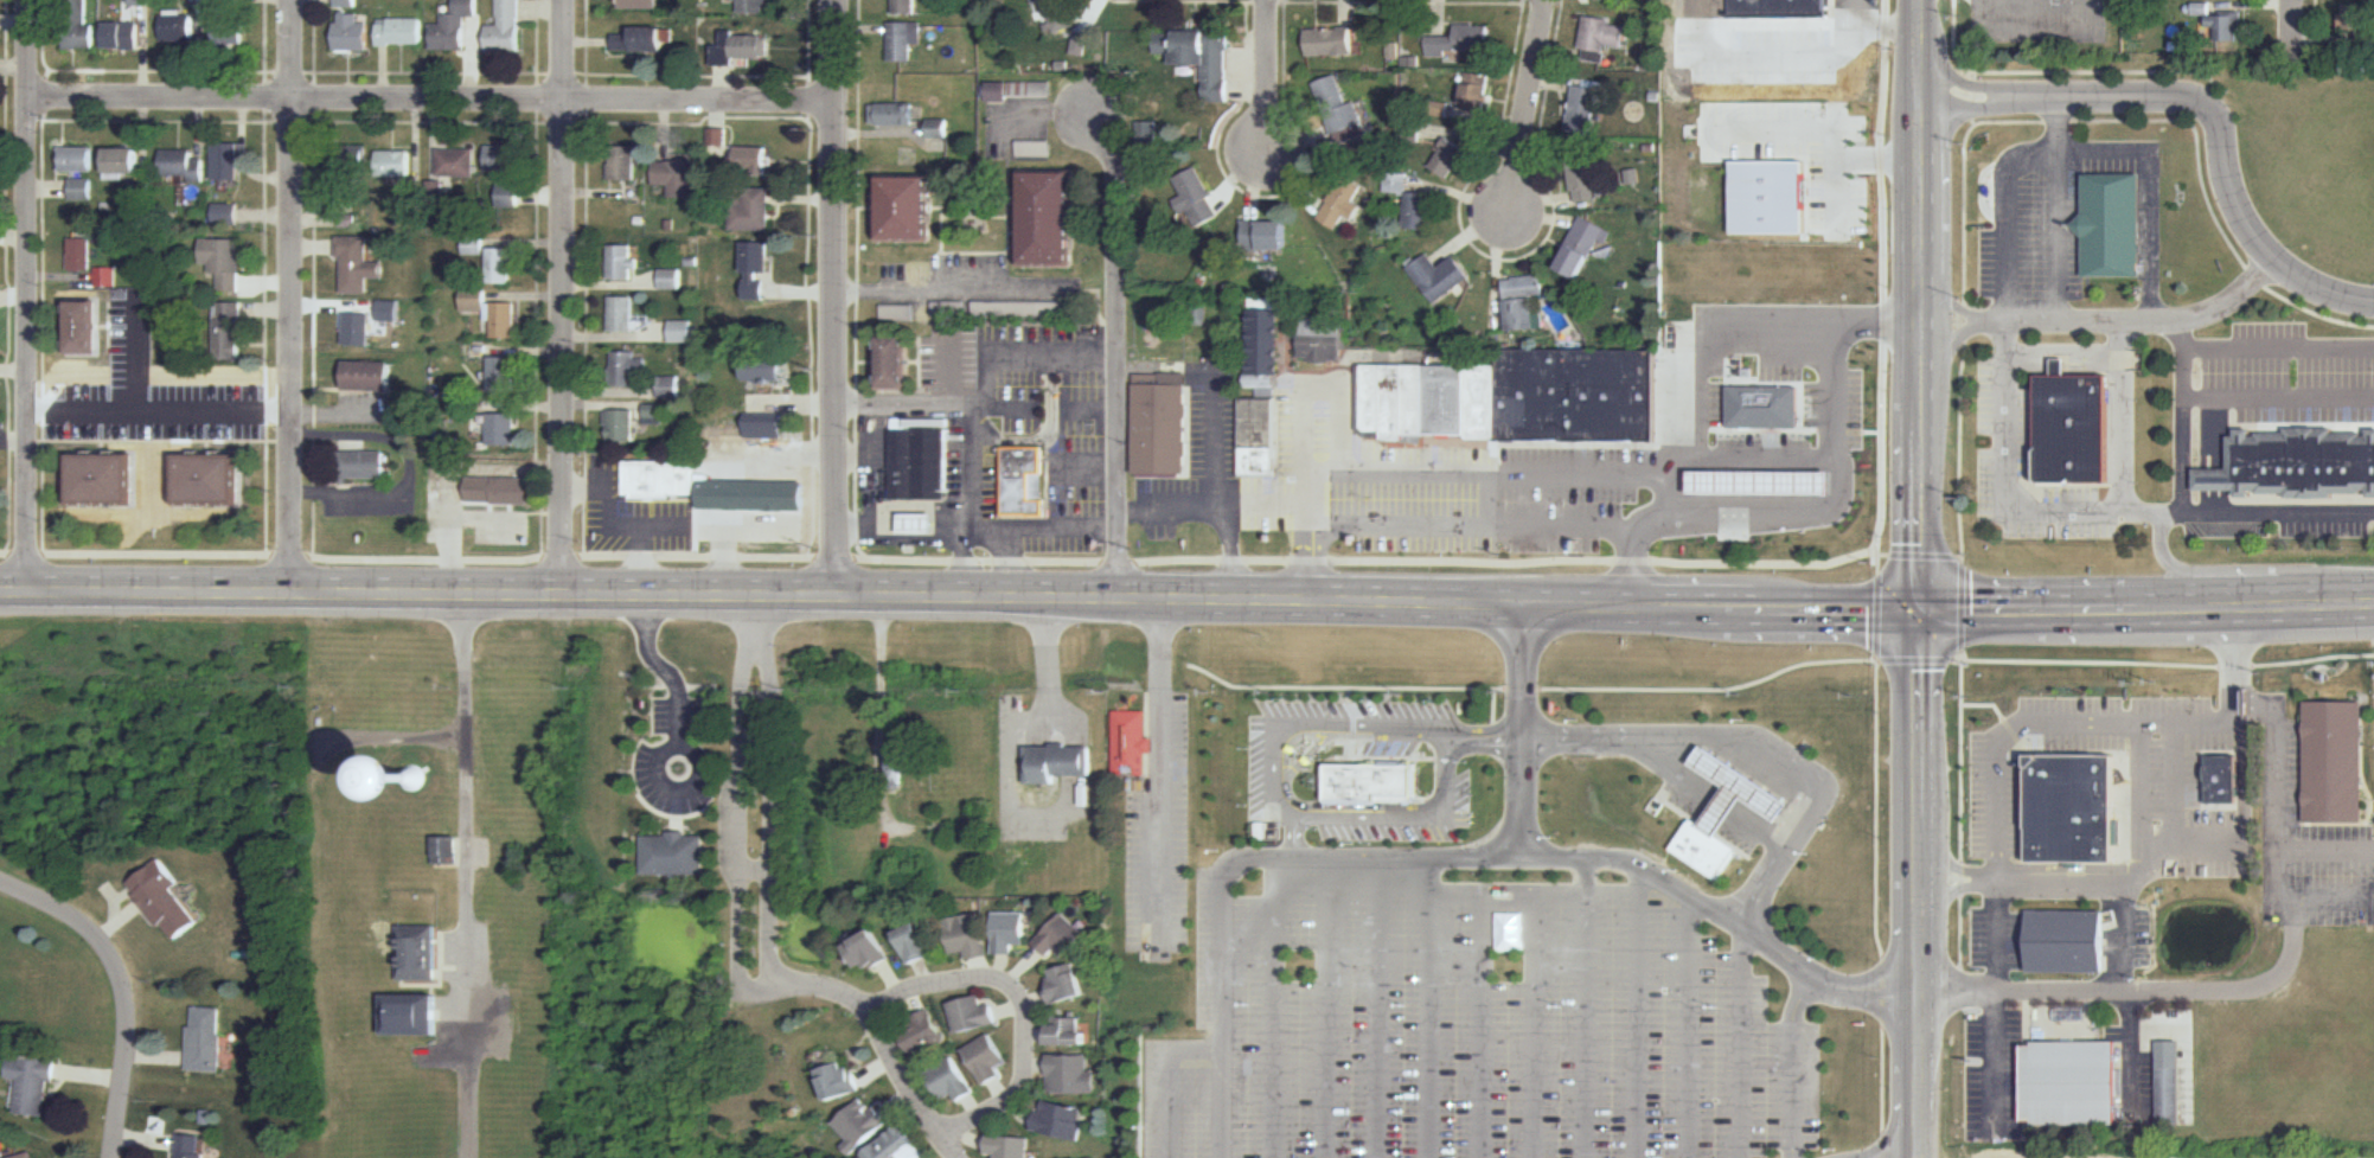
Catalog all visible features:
building: (140, 1)
road: (1522, 1)
building: (346, 2)
road: (2271, 2)
building: (640, 4)
building: (908, 6)
building: (755, 7)
building: (2199, 7)
building: (1783, 9)
building: (1063, 13)
road: (2030, 13)
parking lot: (2054, 14)
building: (2355, 17)
road: (2315, 19)
road: (2286, 21)
building: (79, 25)
building: (230, 25)
road: (1876, 26)
building: (2225, 26)
building: (180, 27)
building: (453, 27)
building: (505, 27)
road: (1768, 27)
road: (2031, 27)
building: (351, 30)
building: (401, 31)
building: (124, 34)
building: (1600, 37)
building: (902, 39)
building: (1331, 39)
building: (1463, 39)
building: (641, 41)
building: (1080, 43)
road: (1855, 45)
building: (740, 49)
road: (1922, 51)
building: (1202, 57)
road: (2059, 70)
road: (154, 71)
road: (314, 71)
road: (425, 72)
road: (583, 75)
road: (696, 75)
road: (1272, 78)
building: (998, 90)
building: (1476, 91)
road: (44, 95)
road: (265, 96)
road: (1506, 96)
road: (811, 97)
road: (436, 101)
road: (1697, 103)
road: (2206, 104)
building: (1338, 105)
building: (1582, 109)
road: (1525, 110)
building: (891, 114)
road: (1045, 115)
road: (704, 120)
road: (290, 121)
road: (424, 121)
road: (2017, 122)
building: (938, 127)
road: (1719, 129)
building: (1148, 130)
building: (1351, 133)
building: (716, 135)
road: (1819, 153)
building: (232, 156)
building: (505, 156)
building: (81, 158)
building: (350, 159)
building: (753, 159)
building: (1448, 159)
building: (393, 160)
building: (456, 160)
building: (622, 162)
building: (124, 164)
building: (185, 164)
building: (679, 175)
building: (1632, 175)
building: (1586, 178)
building: (1396, 181)
parking lot: (1674, 185)
building: (82, 187)
road: (2005, 190)
building: (506, 193)
road: (2150, 193)
road: (1265, 194)
road: (1924, 194)
building: (1198, 198)
building: (1799, 198)
building: (1338, 201)
building: (753, 207)
building: (910, 207)
building: (1419, 211)
building: (228, 216)
building: (1051, 218)
parking lot: (2035, 223)
building: (2111, 225)
road: (265, 228)
building: (1268, 237)
road: (2056, 239)
building: (473, 245)
building: (1581, 245)
building: (81, 251)
building: (224, 260)
building: (622, 260)
building: (499, 263)
building: (359, 268)
building: (756, 268)
building: (105, 275)
building: (1439, 275)
road: (1883, 275)
road: (7, 277)
building: (668, 277)
road: (858, 279)
road: (32, 293)
road: (292, 293)
road: (981, 293)
road: (562, 295)
road: (840, 298)
building: (1527, 302)
road: (1947, 306)
building: (388, 309)
building: (621, 313)
building: (505, 320)
road: (2132, 324)
building: (87, 326)
road: (1925, 326)
building: (230, 328)
building: (357, 330)
building: (678, 330)
road: (43, 335)
building: (1324, 337)
building: (1268, 338)
road: (1947, 343)
road: (2277, 347)
road: (135, 348)
road: (1122, 353)
road: (1701, 357)
building: (896, 363)
building: (627, 366)
building: (764, 367)
building: (503, 373)
building: (369, 376)
parking lot: (2282, 377)
building: (667, 385)
building: (1576, 395)
building: (1374, 397)
road: (2277, 399)
road: (161, 401)
building: (1415, 401)
building: (1446, 402)
road: (913, 403)
building: (1483, 403)
building: (1395, 404)
building: (1758, 405)
building: (652, 412)
road: (341, 414)
road: (2181, 423)
building: (764, 424)
building: (619, 426)
building: (1163, 427)
building: (505, 429)
road: (1049, 429)
building: (2075, 429)
road: (872, 431)
building: (1260, 437)
road: (15, 439)
road: (1215, 439)
road: (1307, 439)
road: (154, 441)
road: (974, 446)
parking lot: (1594, 454)
road: (1770, 454)
building: (2296, 462)
building: (920, 465)
building: (360, 466)
road: (1503, 473)
building: (211, 478)
building: (104, 479)
building: (661, 479)
building: (1025, 481)
building: (1759, 482)
road: (1926, 487)
building: (495, 490)
road: (871, 490)
road: (1821, 505)
road: (922, 506)
road: (1215, 506)
road: (2066, 508)
road: (2142, 511)
road: (2276, 513)
building: (921, 522)
road: (1472, 526)
parking lot: (2327, 529)
road: (1960, 551)
road: (1308, 552)
road: (1233, 554)
road: (938, 558)
road: (1212, 561)
road: (961, 562)
road: (1012, 563)
road: (2202, 572)
road: (2329, 599)
road: (1141, 600)
traffic signals: (1928, 613)
road: (756, 621)
road: (2124, 663)
road: (664, 670)
road: (1343, 686)
road: (1523, 687)
road: (1709, 687)
road: (1959, 710)
road: (883, 711)
road: (1016, 717)
building: (1131, 742)
road: (1928, 744)
road: (1755, 746)
road: (757, 749)
road: (664, 753)
building: (2335, 761)
building: (1058, 762)
building: (908, 764)
building: (1372, 764)
road: (1252, 766)
road: (1162, 774)
building: (2223, 779)
building: (1738, 791)
road: (1709, 807)
building: (2075, 808)
road: (773, 813)
road: (743, 815)
road: (2175, 826)
road: (1994, 832)
parking lot: (1162, 840)
road: (2327, 846)
building: (1706, 849)
building: (447, 850)
building: (674, 855)
road: (1623, 859)
road: (1235, 865)
road: (759, 870)
road: (467, 874)
building: (162, 897)
road: (2319, 898)
road: (1876, 908)
building: (1009, 932)
road: (2123, 933)
building: (967, 935)
building: (1061, 935)
building: (917, 941)
building: (2067, 941)
building: (869, 949)
building: (420, 953)
road: (1024, 966)
road: (999, 967)
road: (980, 968)
road: (924, 973)
road: (892, 979)
road: (2267, 980)
building: (1067, 981)
road: (122, 987)
road: (1485, 997)
road: (1035, 1000)
road: (914, 1002)
road: (1535, 1002)
road: (1009, 1006)
road: (1275, 1007)
road: (1327, 1007)
road: (1378, 1007)
road: (1428, 1007)
road: (1585, 1009)
road: (1023, 1010)
road: (1638, 1011)
building: (972, 1015)
building: (411, 1016)
road: (1928, 1017)
parking lot: (1473, 1023)
road: (881, 1025)
road: (1688, 1026)
building: (923, 1030)
road: (1036, 1032)
building: (1068, 1034)
building: (205, 1041)
road: (1742, 1043)
building: (986, 1058)
road: (1793, 1064)
road: (879, 1067)
road: (1037, 1069)
road: (706, 1070)
building: (1071, 1075)
road: (1176, 1080)
building: (952, 1081)
building: (842, 1082)
building: (32, 1083)
building: (2073, 1083)
building: (2170, 1087)
road: (1000, 1092)
road: (900, 1100)
road: (973, 1107)
road: (1020, 1113)
building: (1061, 1121)
building: (862, 1125)
road: (972, 1139)
building: (187, 1147)
building: (898, 1147)
building: (1009, 1147)
building: (2, 1151)
building: (30, 1156)
building: (1079, 1157)

